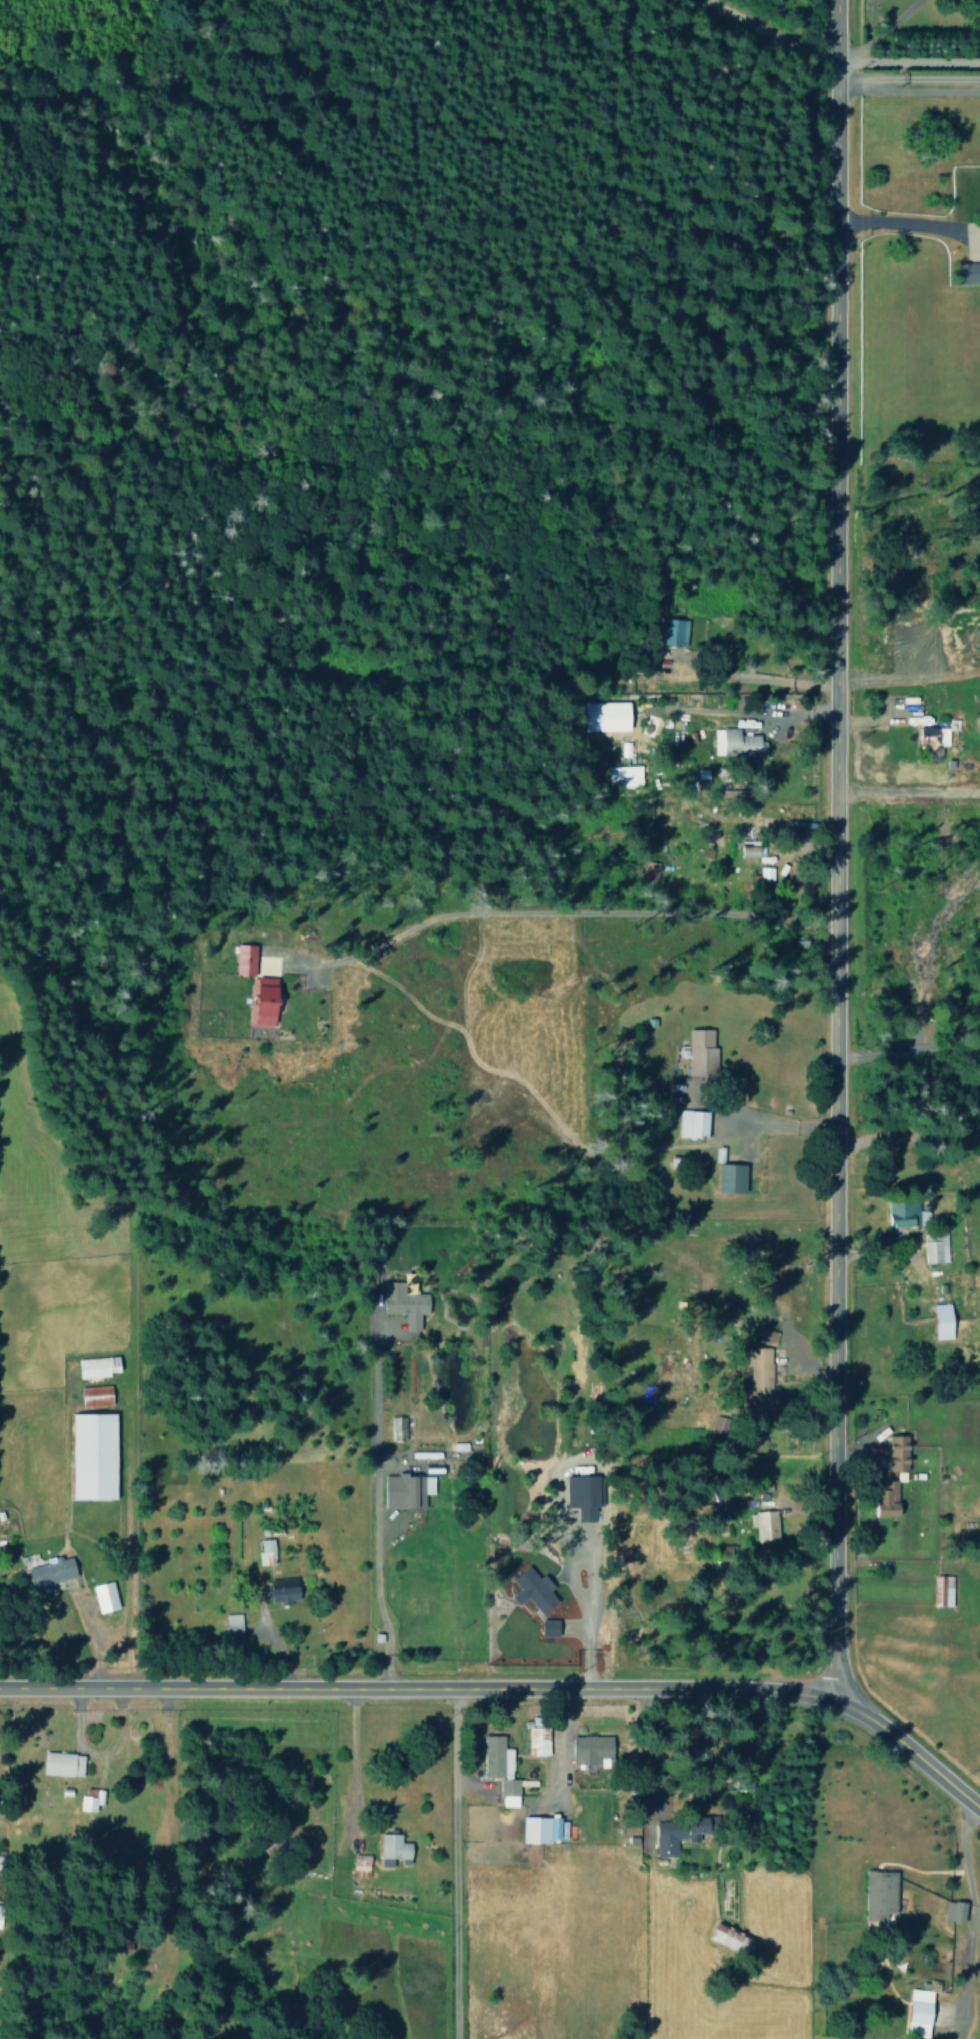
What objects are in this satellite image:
road: (759, 30)
road: (905, 53)
road: (901, 223)
building: (970, 272)
building: (673, 633)
building: (605, 716)
building: (655, 725)
building: (935, 737)
building: (737, 742)
building: (624, 775)
road: (826, 844)
building: (752, 848)
building: (246, 959)
building: (265, 1002)
road: (906, 1040)
building: (703, 1052)
road: (763, 1119)
building: (694, 1122)
road: (909, 1131)
building: (733, 1177)
building: (904, 1213)
building: (936, 1246)
building: (405, 1303)
building: (944, 1320)
building: (99, 1366)
building: (763, 1376)
building: (97, 1395)
building: (720, 1425)
building: (900, 1452)
building: (95, 1455)
building: (408, 1490)
building: (585, 1495)
building: (891, 1498)
building: (767, 1526)
building: (266, 1551)
building: (53, 1571)
building: (535, 1589)
building: (285, 1590)
building: (943, 1590)
building: (106, 1596)
building: (234, 1624)
building: (552, 1627)
road: (512, 1691)
building: (538, 1736)
building: (594, 1750)
building: (64, 1763)
building: (501, 1769)
building: (91, 1801)
building: (541, 1829)
building: (679, 1834)
building: (395, 1849)
building: (361, 1865)
road: (452, 1865)
building: (882, 1893)
building: (956, 1910)
building: (0, 1915)
building: (731, 1938)
building: (922, 2010)

